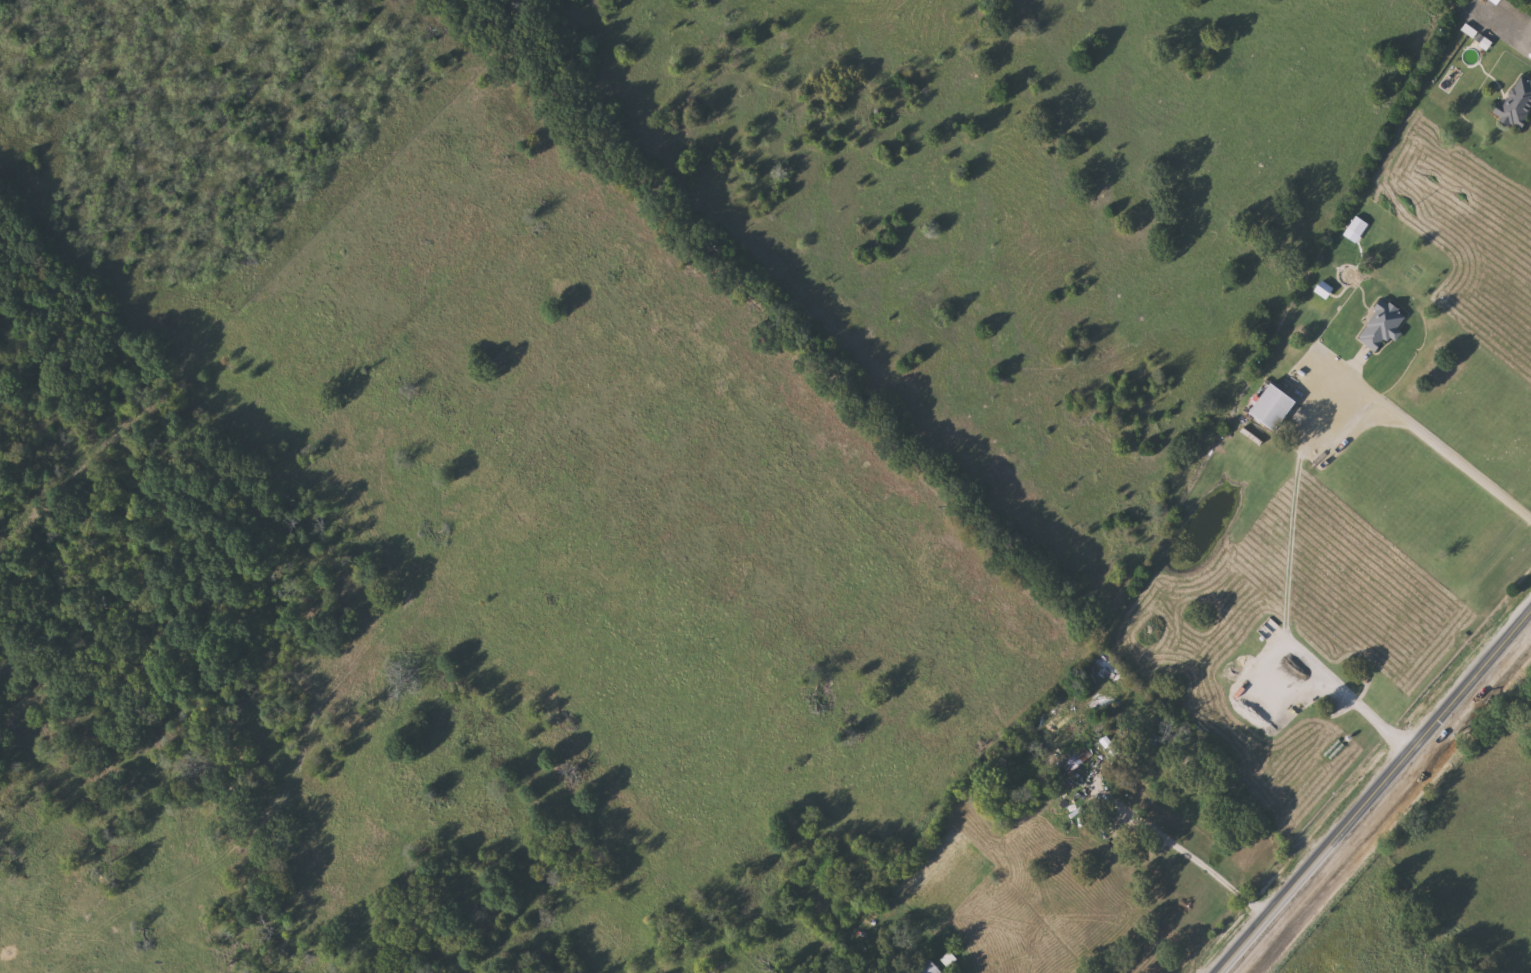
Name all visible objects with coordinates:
building: (1518, 102)
building: (1358, 225)
building: (1383, 325)
building: (1275, 406)
road: (1435, 445)
building: (1256, 682)
building: (1073, 762)
road: (1379, 794)
road: (1182, 848)
building: (929, 967)

